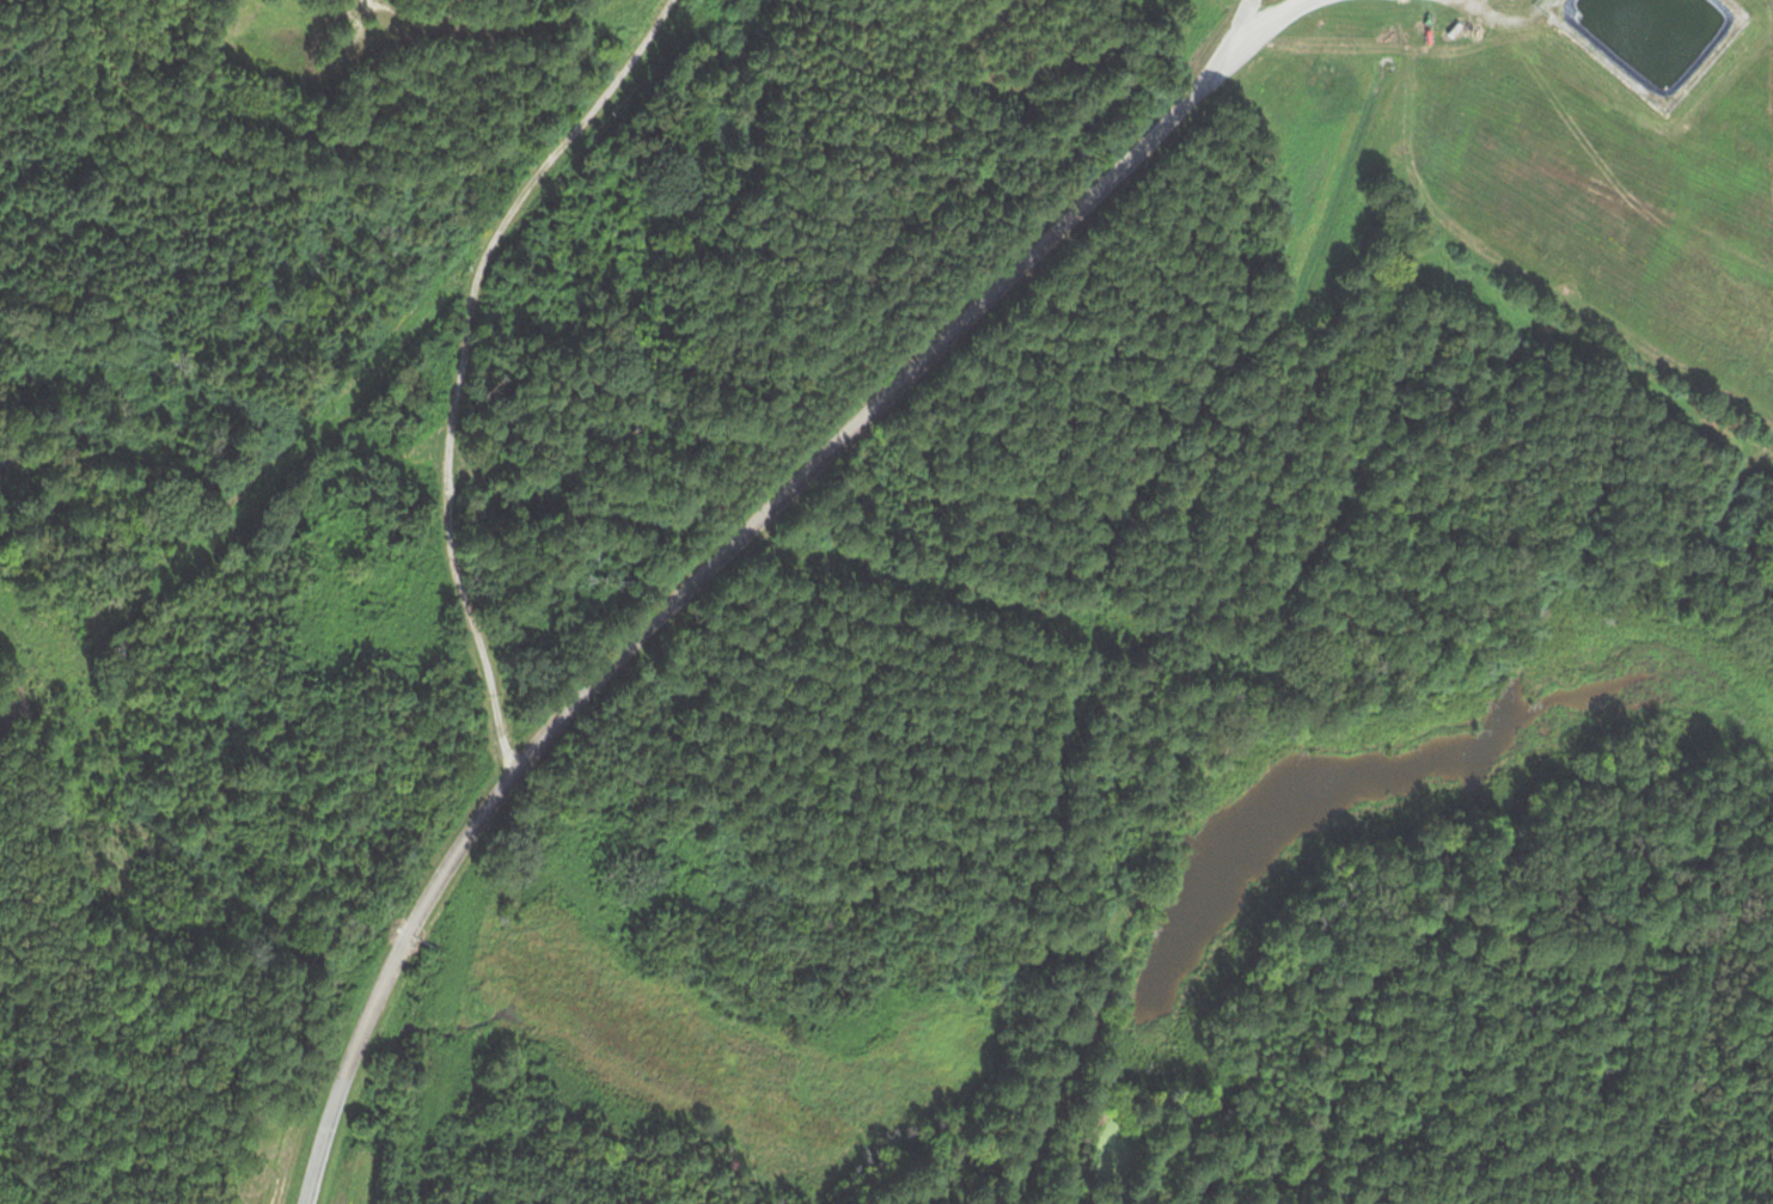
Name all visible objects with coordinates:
road: (463, 360)
road: (695, 580)

